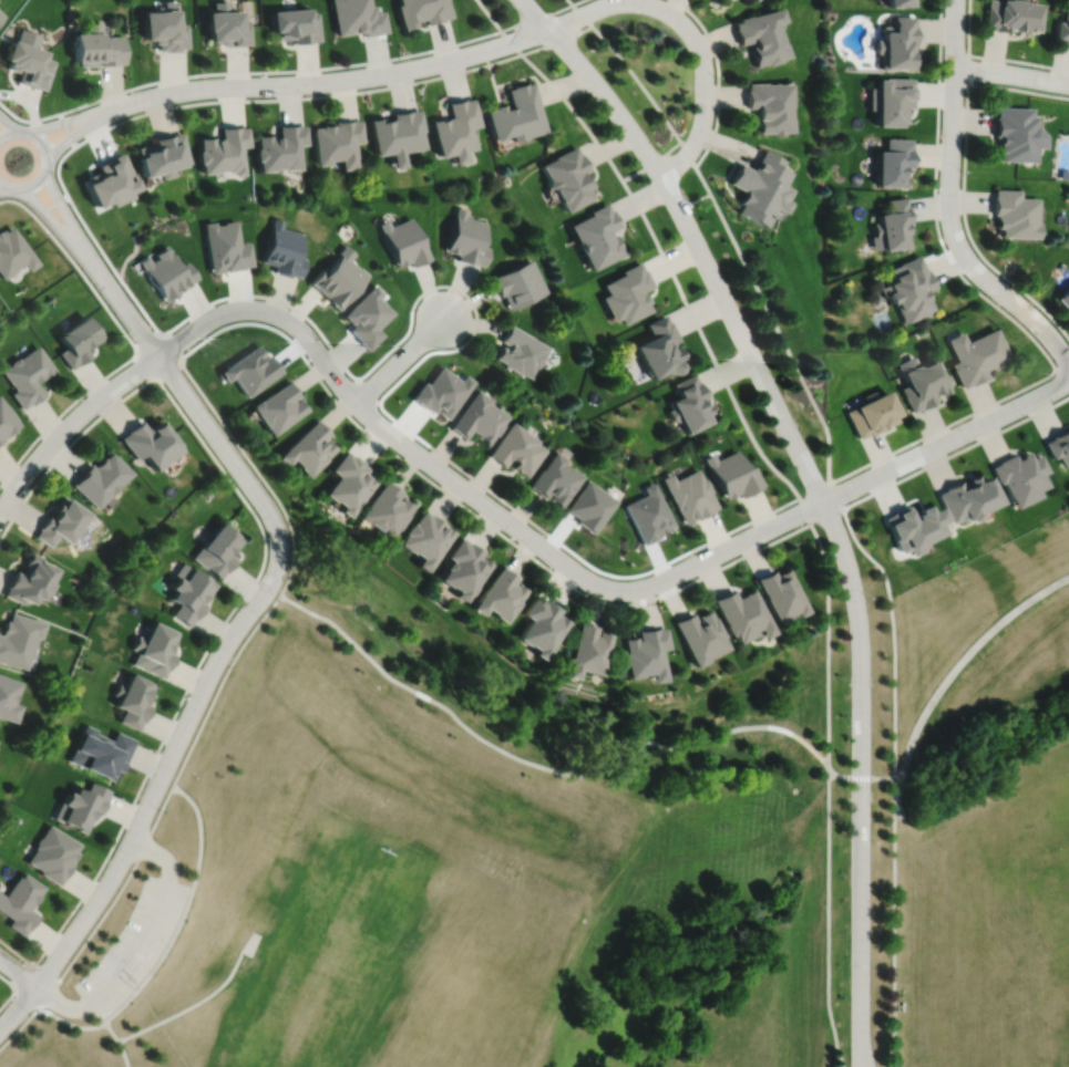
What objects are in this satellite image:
building: (744, 0)
building: (747, 0)
road: (571, 2)
road: (578, 2)
building: (897, 3)
building: (422, 12)
road: (489, 15)
road: (582, 15)
building: (1009, 17)
building: (358, 18)
road: (537, 18)
building: (225, 27)
building: (296, 27)
building: (164, 29)
building: (1062, 29)
road: (691, 35)
building: (760, 38)
road: (556, 41)
road: (510, 42)
building: (896, 45)
building: (95, 49)
road: (990, 58)
building: (27, 66)
road: (968, 71)
road: (246, 72)
road: (1011, 74)
road: (718, 77)
road: (339, 80)
road: (638, 82)
building: (891, 102)
building: (769, 107)
road: (574, 114)
building: (515, 116)
road: (78, 117)
road: (9, 123)
road: (68, 130)
road: (83, 130)
building: (455, 132)
building: (1015, 133)
building: (397, 136)
building: (337, 144)
building: (279, 151)
building: (222, 153)
road: (688, 154)
building: (161, 157)
road: (48, 158)
building: (893, 162)
road: (652, 163)
building: (1063, 174)
building: (567, 178)
road: (964, 182)
building: (107, 184)
road: (4, 187)
building: (758, 187)
road: (949, 203)
road: (935, 204)
road: (51, 205)
road: (63, 209)
building: (1015, 213)
road: (51, 217)
building: (893, 222)
building: (597, 235)
building: (467, 237)
road: (692, 237)
building: (404, 240)
road: (96, 242)
building: (226, 246)
building: (284, 248)
building: (12, 250)
building: (166, 271)
building: (339, 276)
building: (520, 282)
building: (909, 290)
building: (627, 292)
building: (1065, 297)
building: (368, 315)
road: (773, 321)
building: (78, 339)
road: (705, 342)
road: (134, 344)
building: (657, 348)
building: (521, 350)
building: (977, 354)
road: (400, 359)
road: (178, 360)
road: (1063, 366)
building: (28, 373)
building: (922, 382)
building: (687, 403)
building: (279, 406)
road: (196, 407)
building: (872, 412)
building: (481, 417)
building: (7, 418)
road: (70, 424)
road: (947, 425)
road: (946, 442)
building: (148, 443)
building: (1059, 445)
building: (309, 447)
building: (518, 448)
road: (955, 453)
road: (258, 470)
building: (731, 474)
building: (1021, 476)
building: (100, 477)
building: (556, 479)
building: (350, 481)
road: (490, 489)
road: (813, 489)
road: (472, 494)
building: (688, 495)
road: (834, 495)
building: (968, 498)
building: (386, 509)
road: (804, 509)
road: (824, 515)
building: (62, 521)
road: (744, 524)
building: (913, 527)
building: (426, 538)
building: (217, 550)
road: (536, 560)
building: (464, 568)
building: (30, 580)
road: (248, 589)
building: (188, 592)
building: (779, 593)
building: (500, 595)
building: (739, 614)
building: (542, 626)
road: (893, 634)
building: (696, 635)
building: (18, 639)
road: (828, 642)
building: (153, 650)
building: (587, 651)
building: (643, 654)
road: (956, 669)
road: (218, 686)
building: (8, 698)
building: (133, 701)
road: (443, 706)
road: (734, 726)
road: (625, 749)
building: (101, 752)
road: (861, 753)
road: (859, 776)
road: (898, 777)
building: (81, 805)
road: (146, 807)
park: (977, 809)
building: (53, 851)
park: (462, 862)
building: (20, 901)
road: (183, 911)
road: (828, 916)
road: (894, 922)
road: (96, 923)
parking lot: (134, 945)
road: (136, 945)
park: (329, 956)
park: (328, 962)
road: (18, 971)
road: (23, 976)
road: (14, 988)
road: (197, 1001)
road: (56, 1016)
road: (859, 1038)
road: (864, 1039)
road: (119, 1043)

